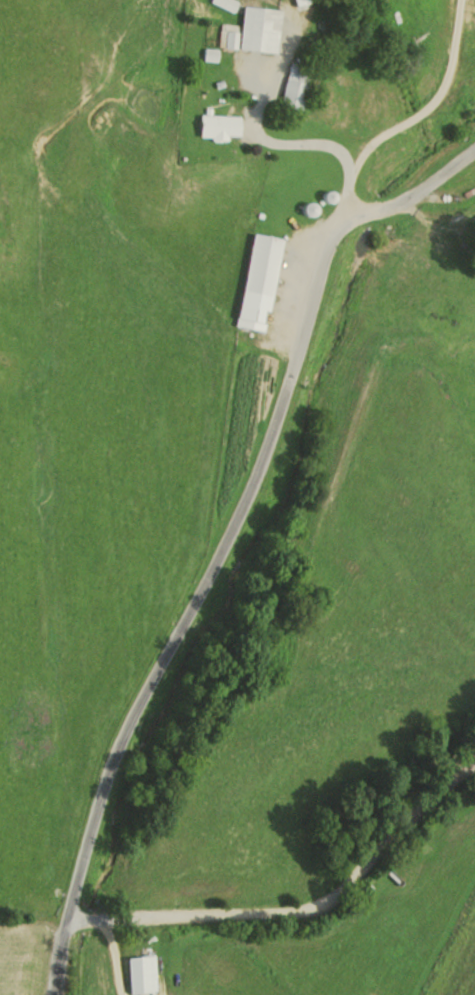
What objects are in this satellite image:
building: (292, 0)
building: (229, 4)
building: (266, 30)
building: (232, 38)
building: (302, 88)
road: (406, 120)
building: (226, 127)
road: (261, 136)
building: (262, 278)
road: (224, 539)
road: (284, 900)
road: (111, 956)
building: (142, 974)

